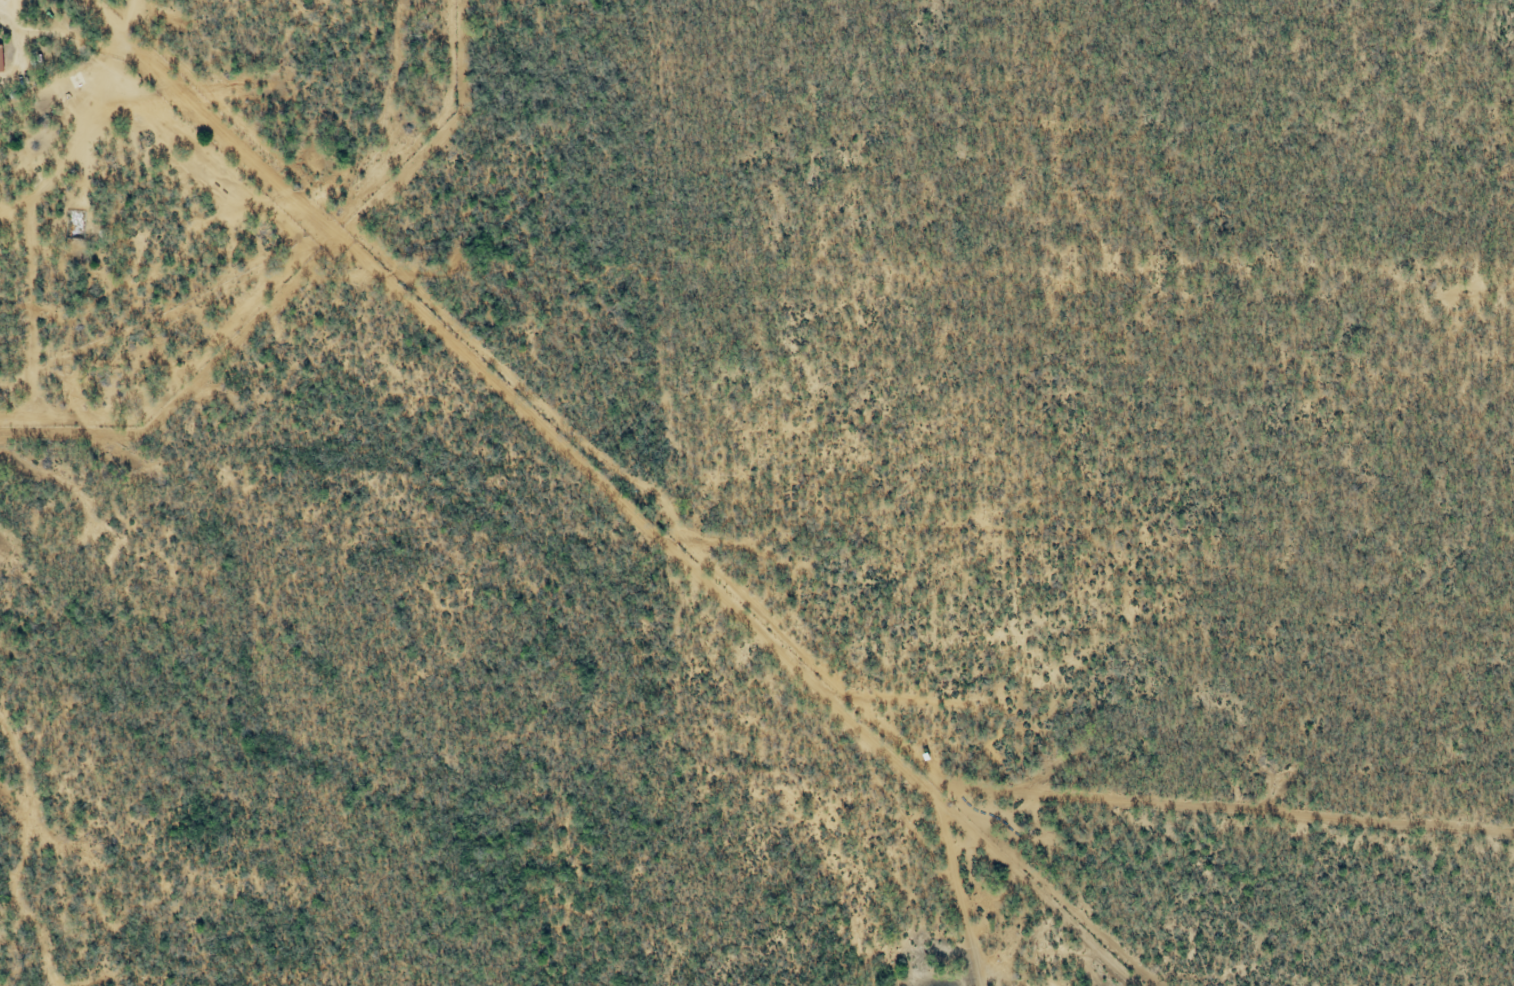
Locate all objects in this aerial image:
building: (0, 55)

